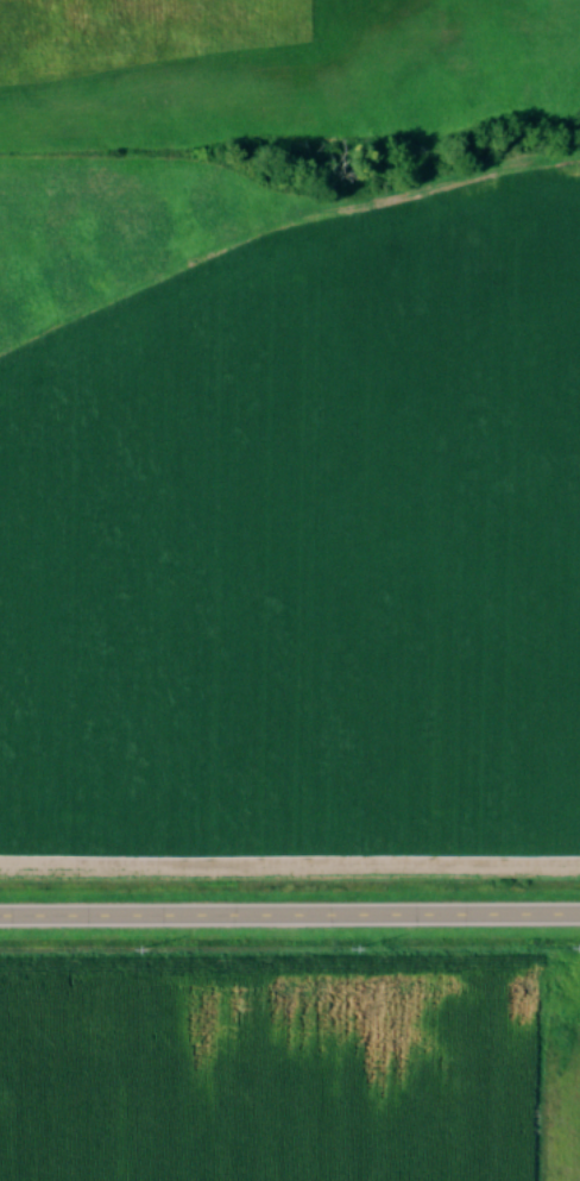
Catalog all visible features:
road: (290, 912)

